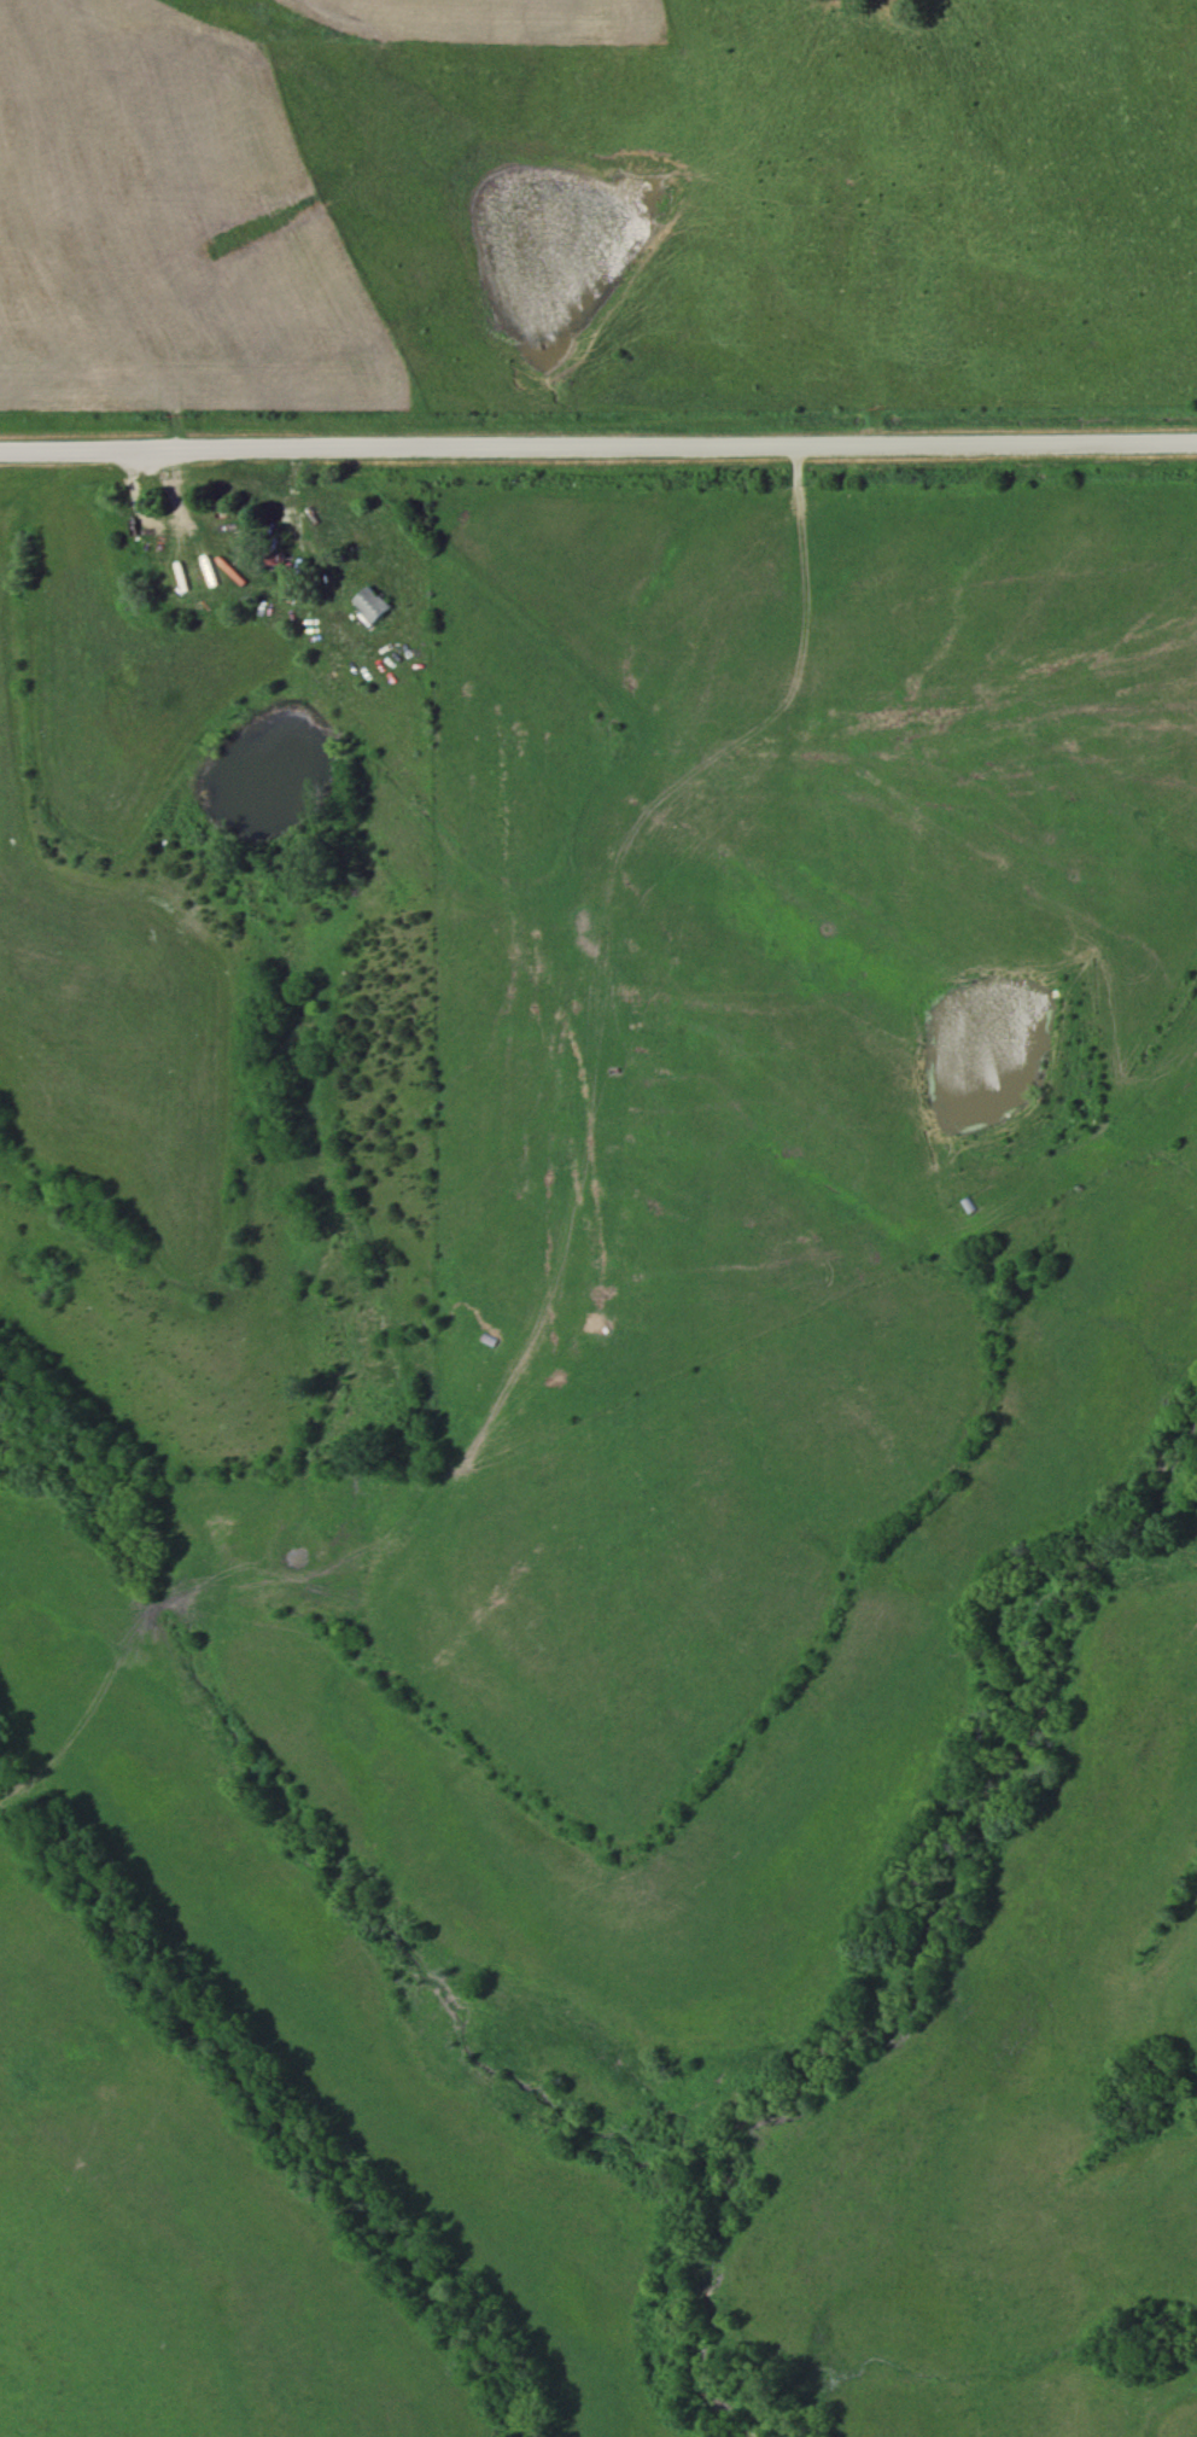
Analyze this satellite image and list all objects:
road: (597, 448)
road: (293, 518)
building: (270, 559)
building: (366, 604)

